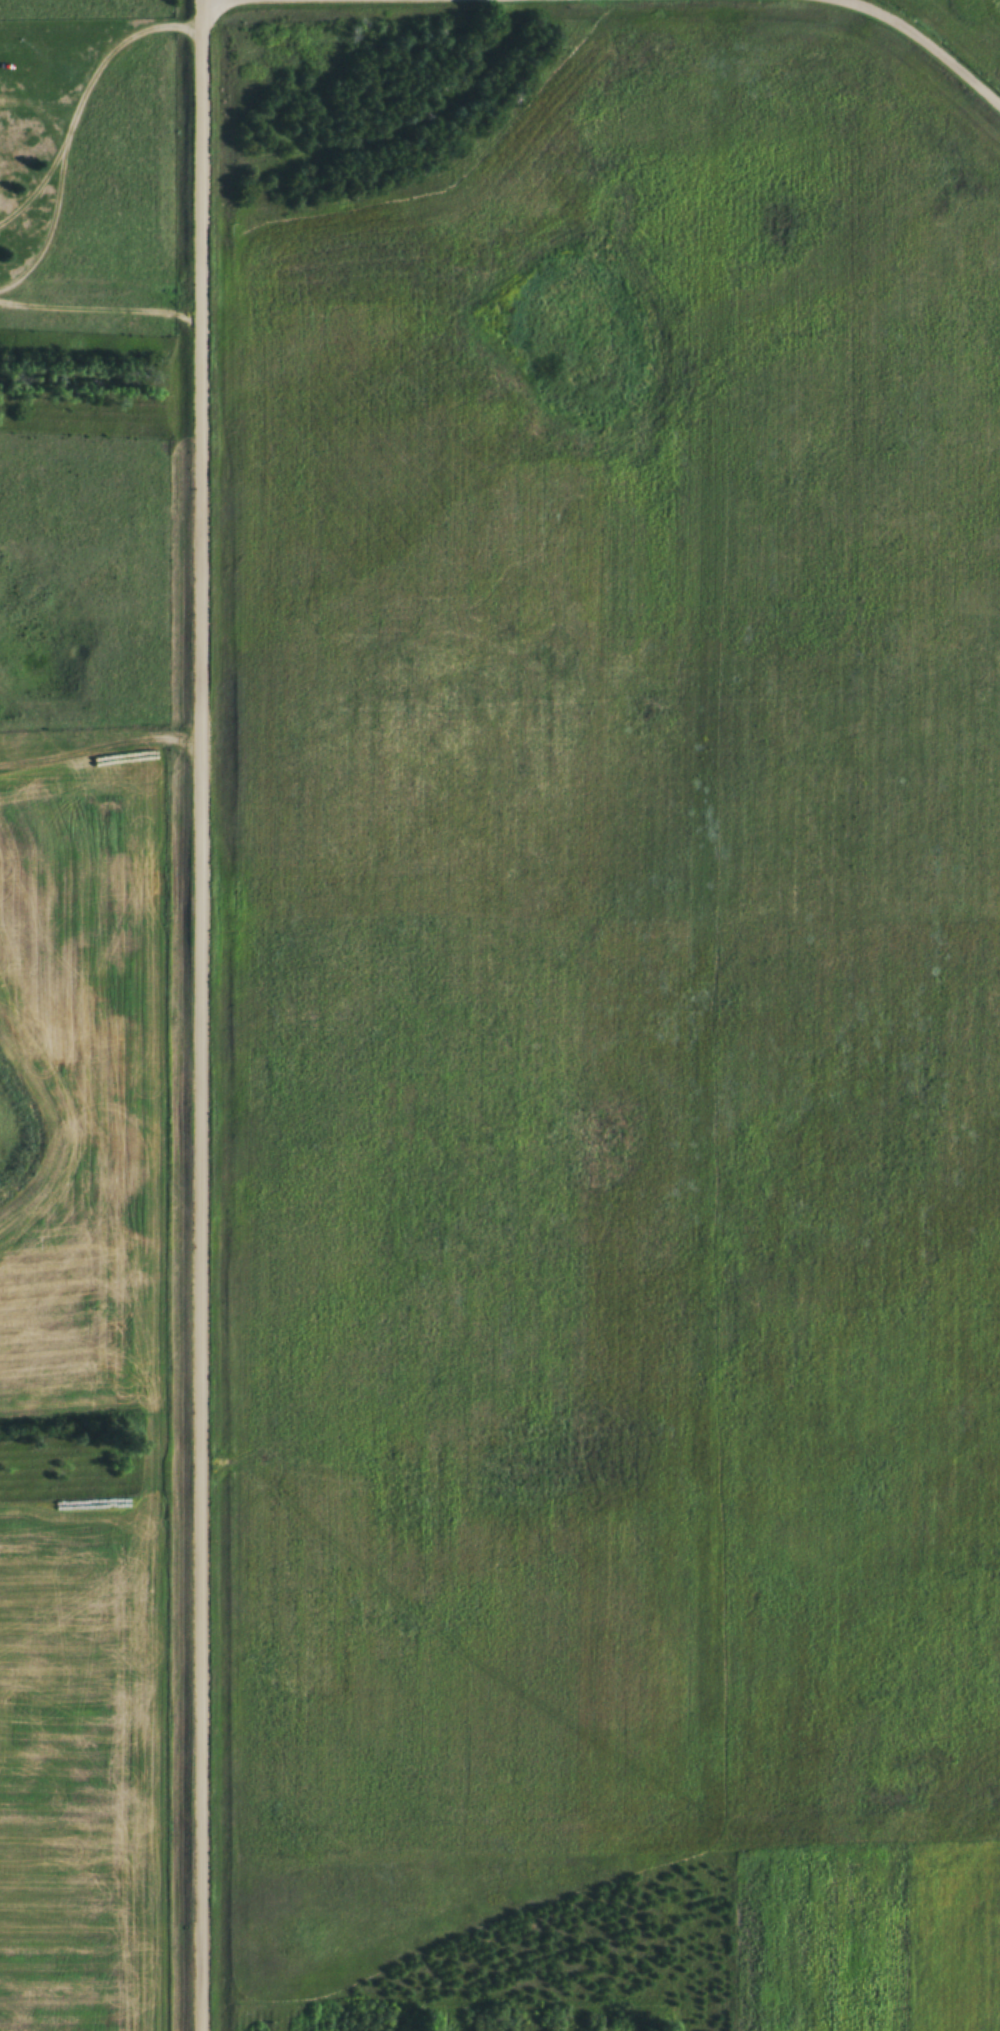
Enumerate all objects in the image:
road: (937, 41)
road: (90, 101)
road: (105, 305)
road: (104, 745)
road: (209, 1015)

